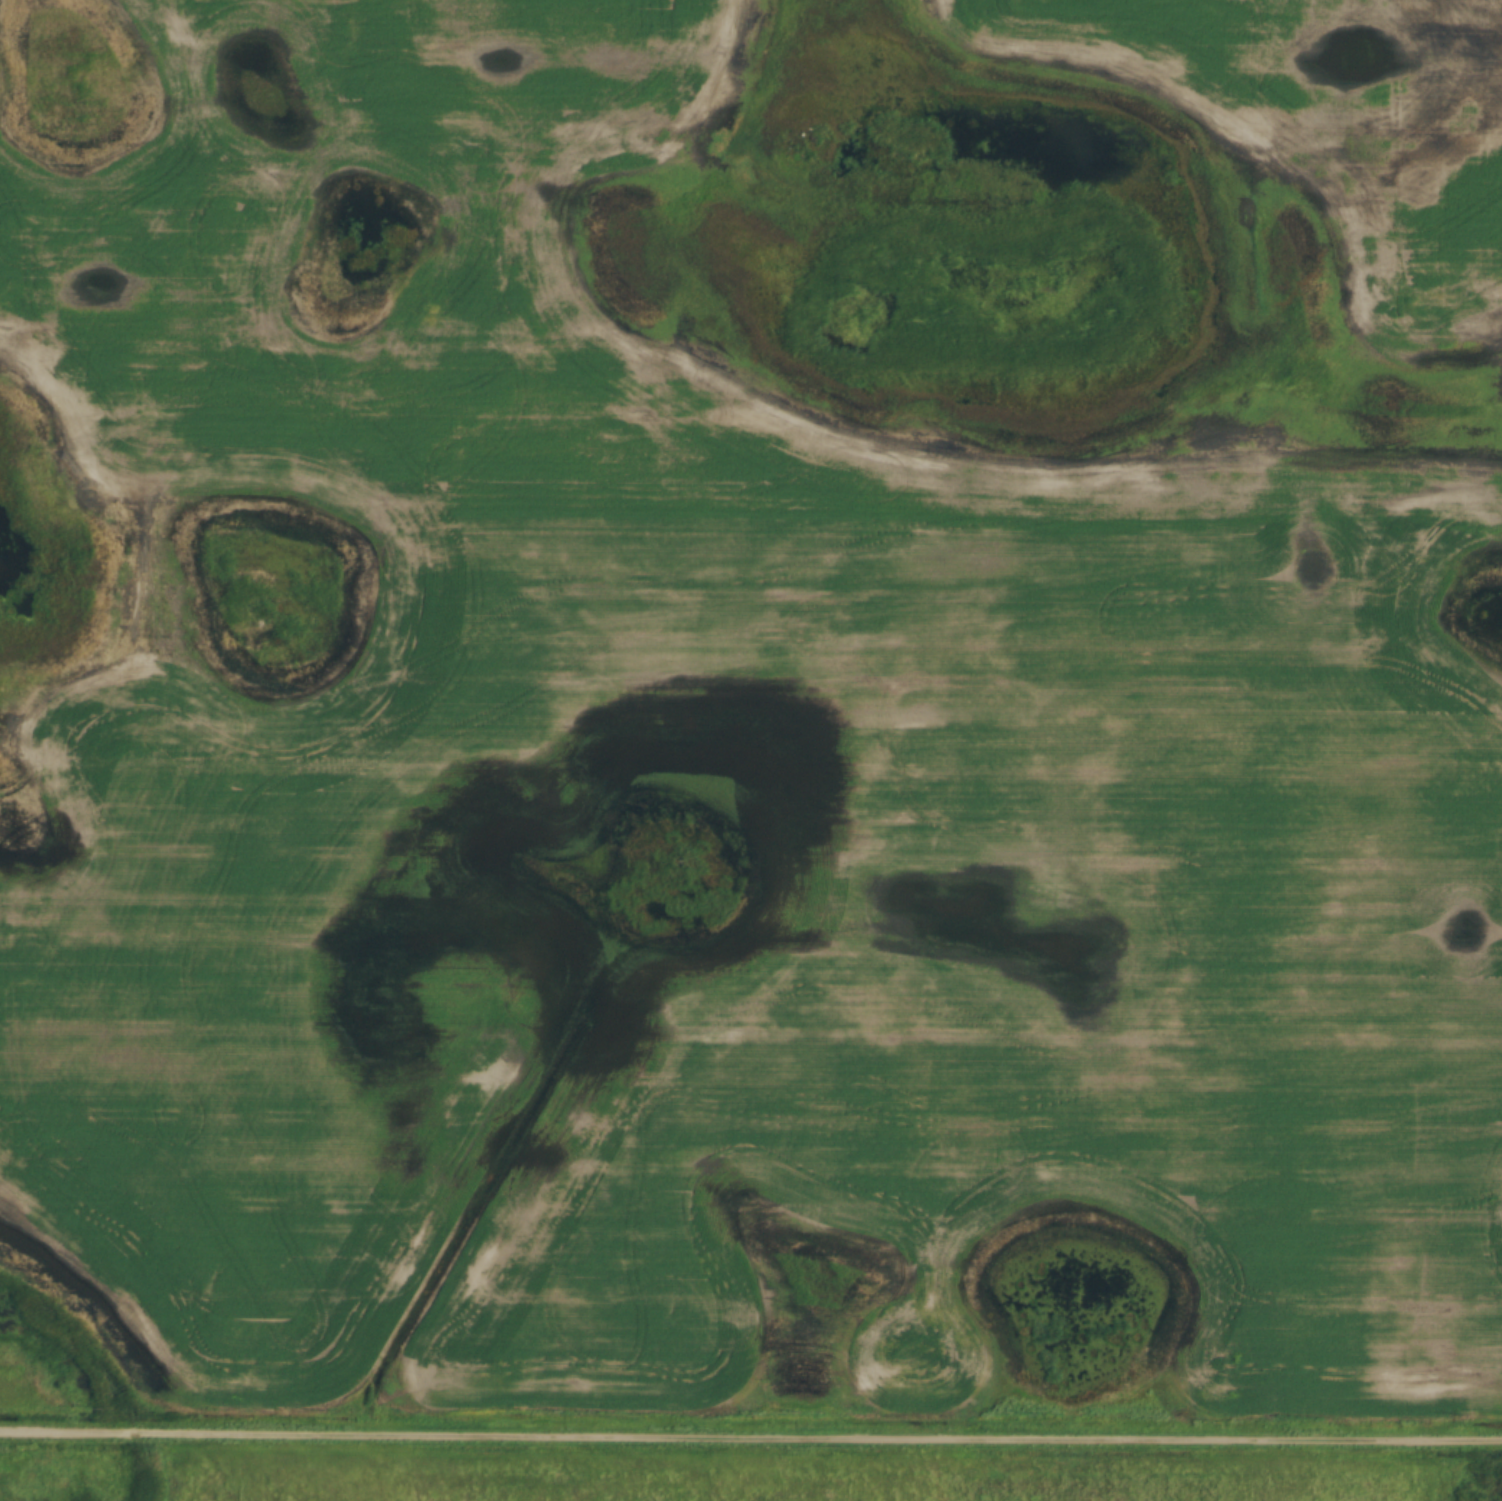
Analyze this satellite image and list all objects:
road: (751, 1431)

